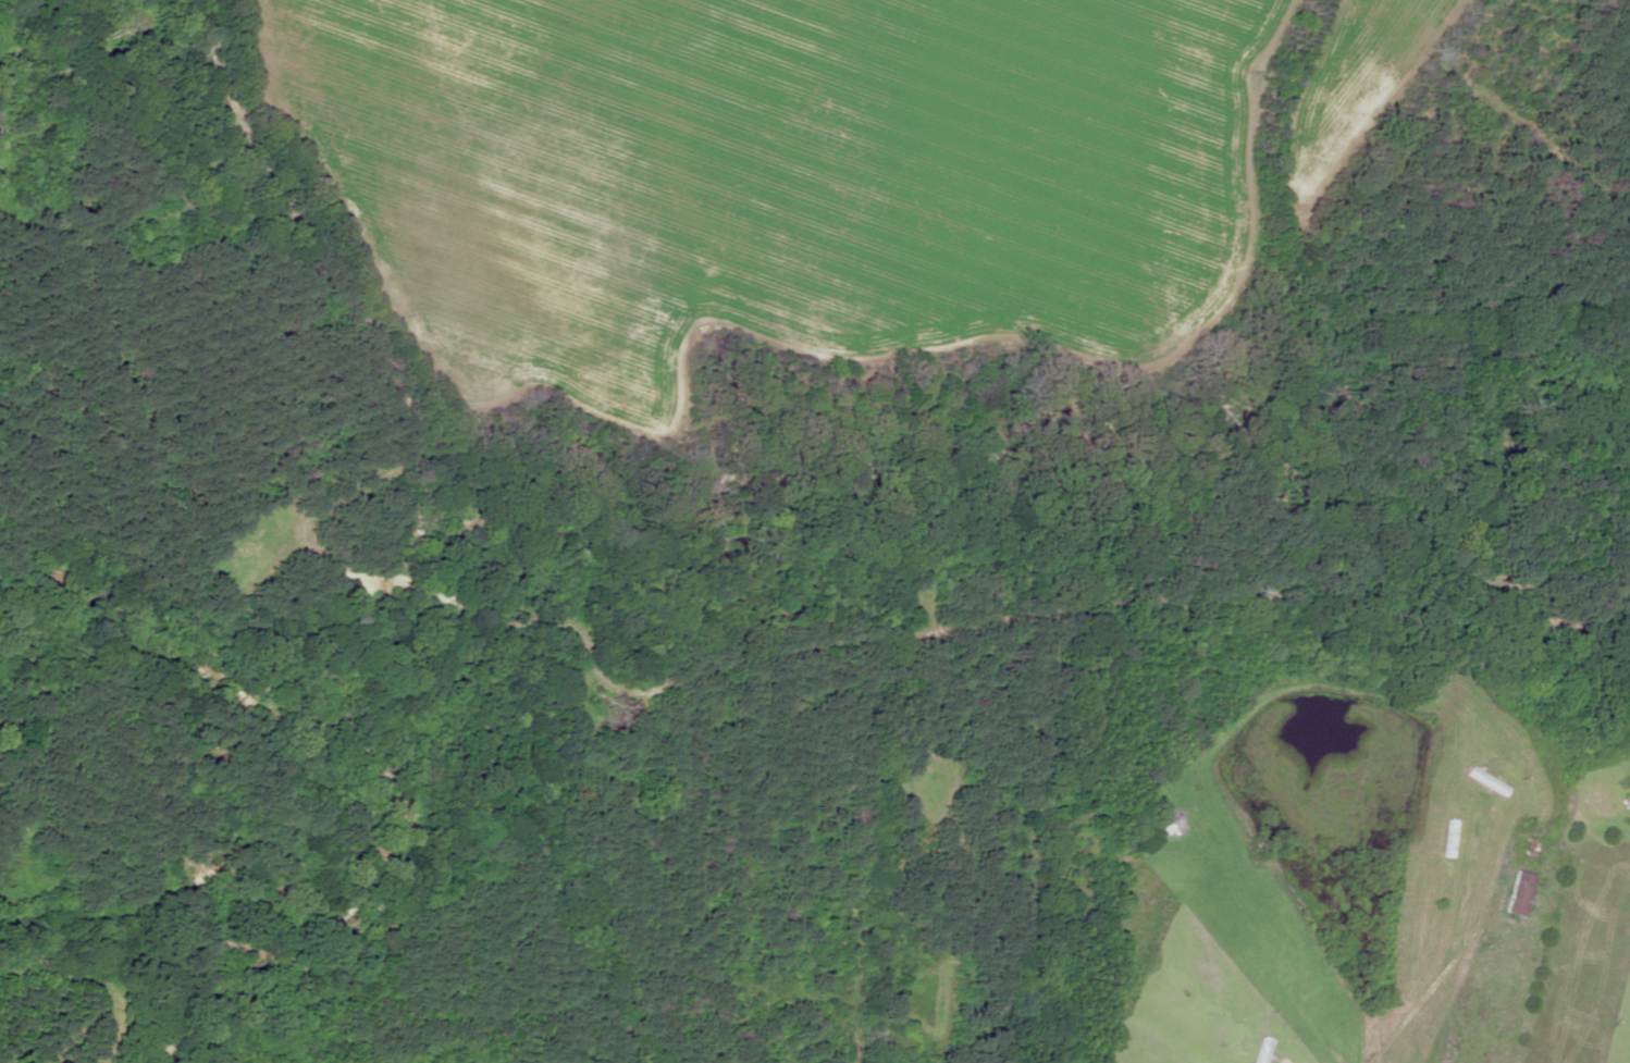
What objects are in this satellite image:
building: (1175, 823)
building: (1521, 894)
building: (1264, 1051)

